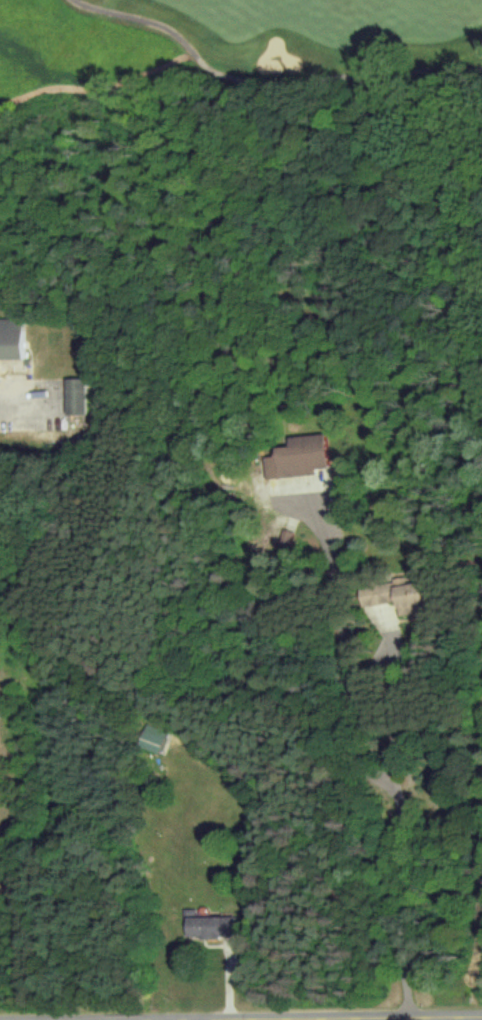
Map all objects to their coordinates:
road: (270, 78)
building: (11, 336)
road: (25, 391)
building: (75, 394)
building: (297, 457)
building: (394, 595)
park: (61, 649)
building: (152, 738)
road: (380, 770)
building: (209, 926)
road: (272, 1018)
road: (148, 1019)
road: (262, 1019)

